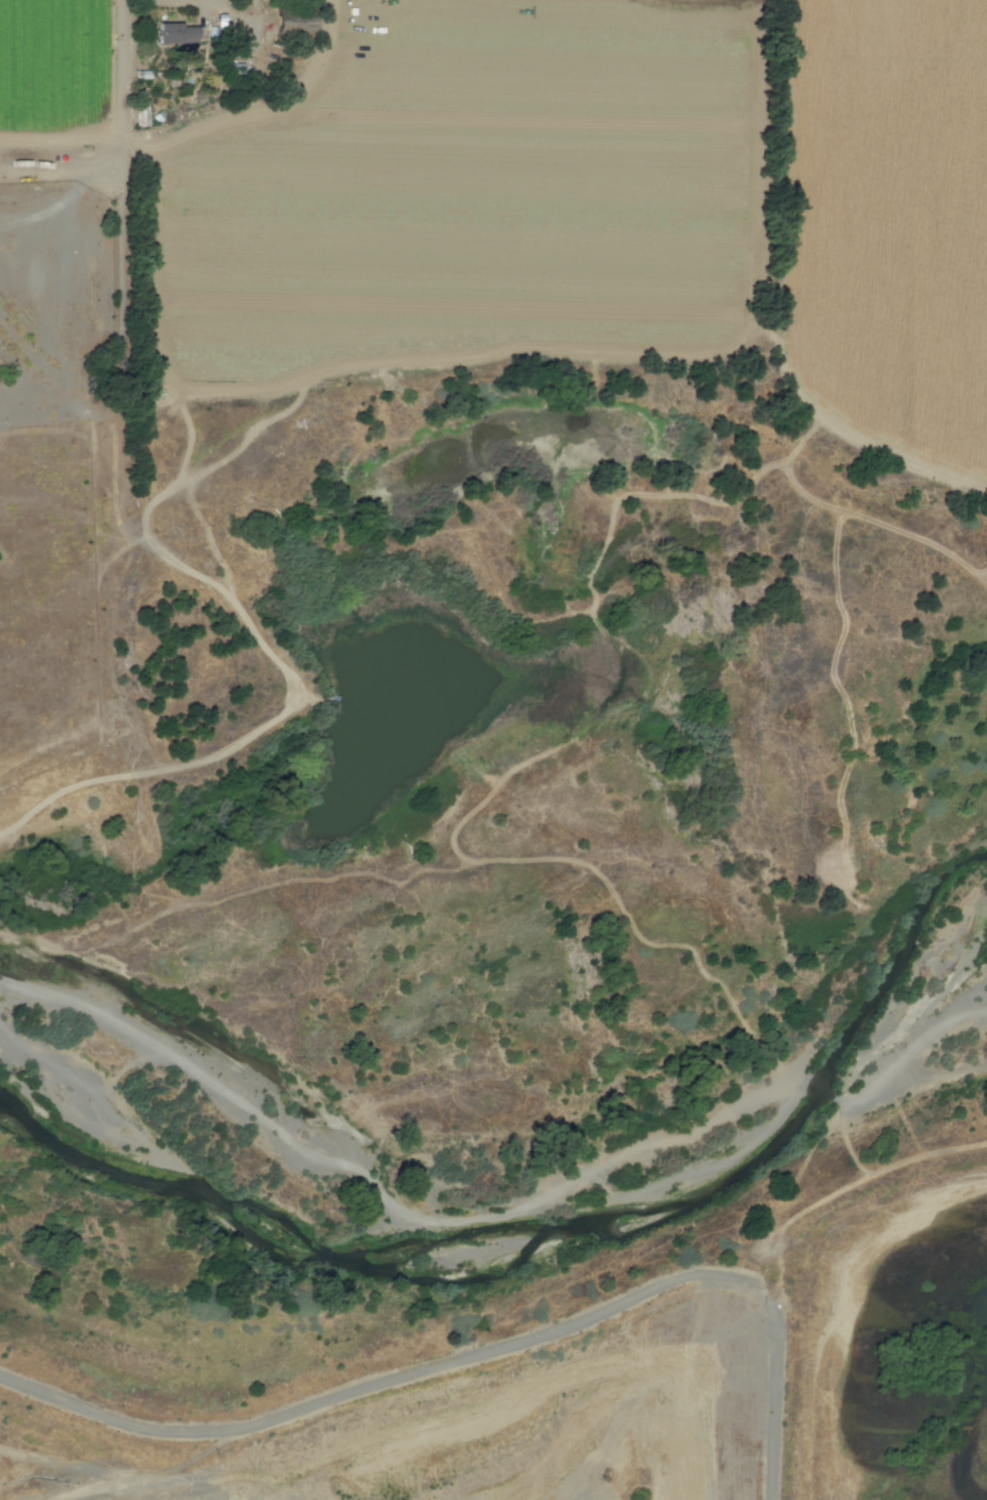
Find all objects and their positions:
building: (178, 34)
road: (253, 64)
road: (62, 145)
road: (149, 255)
road: (77, 513)
river: (520, 1190)
quarry: (461, 1436)

